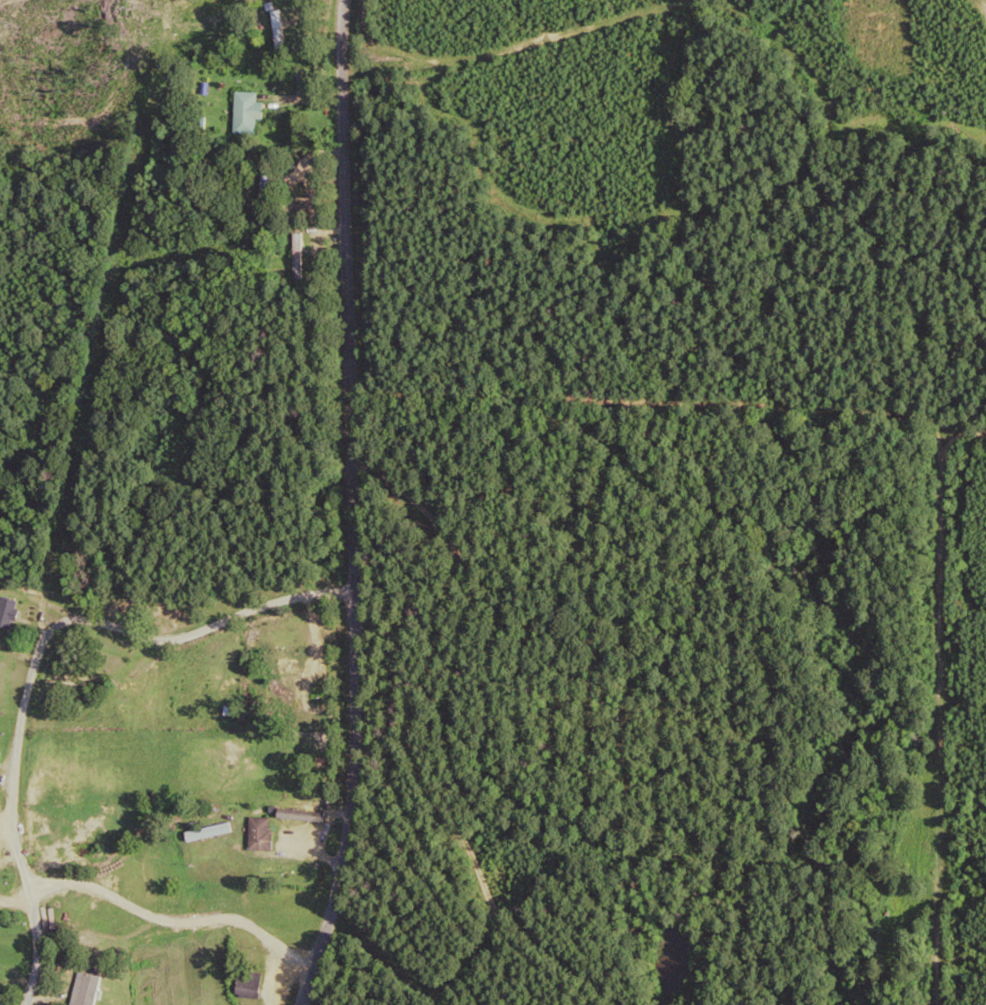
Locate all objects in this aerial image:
building: (275, 27)
building: (246, 111)
building: (264, 192)
road: (356, 504)
building: (7, 611)
building: (289, 665)
building: (277, 691)
building: (205, 830)
building: (258, 832)
road: (177, 883)
building: (248, 984)

